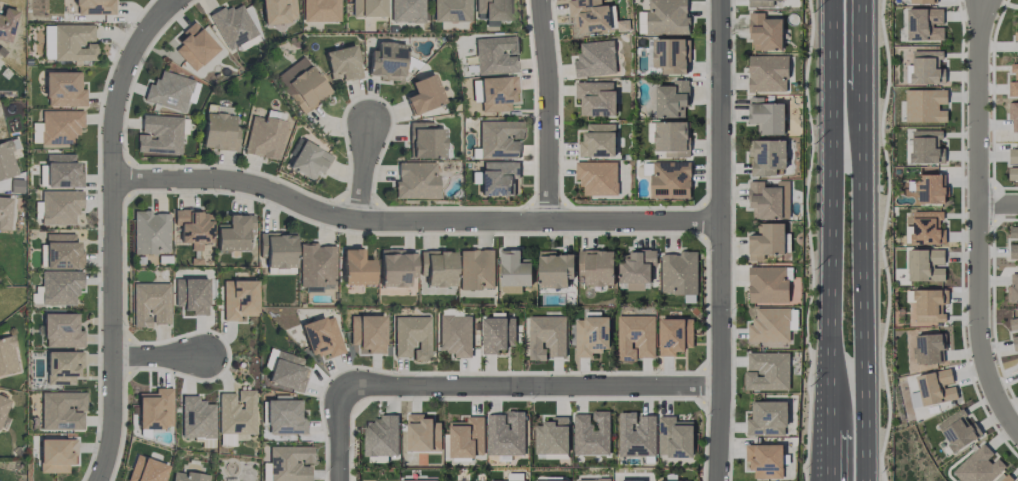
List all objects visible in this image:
building: (921, 1)
building: (761, 3)
building: (87, 7)
building: (366, 8)
building: (319, 10)
building: (450, 10)
building: (276, 11)
building: (405, 11)
building: (491, 11)
building: (589, 15)
building: (667, 17)
building: (642, 22)
building: (6, 23)
building: (924, 24)
building: (232, 25)
building: (764, 32)
building: (1017, 37)
building: (47, 42)
building: (73, 42)
road: (865, 43)
building: (194, 46)
building: (495, 55)
building: (671, 55)
building: (595, 58)
building: (385, 60)
building: (342, 63)
building: (925, 68)
building: (767, 73)
building: (1013, 82)
building: (303, 83)
building: (63, 89)
building: (474, 90)
building: (167, 91)
building: (495, 93)
building: (422, 95)
building: (595, 98)
building: (667, 99)
road: (976, 99)
building: (924, 105)
road: (550, 111)
building: (1013, 115)
building: (766, 116)
building: (59, 127)
building: (218, 132)
building: (158, 134)
building: (263, 137)
building: (671, 137)
building: (498, 139)
building: (424, 140)
building: (597, 140)
building: (926, 147)
building: (767, 156)
building: (307, 160)
building: (6, 161)
building: (1013, 164)
building: (61, 171)
road: (363, 171)
building: (497, 178)
building: (597, 178)
building: (415, 180)
building: (670, 180)
building: (929, 189)
building: (769, 200)
road: (998, 200)
building: (59, 207)
building: (4, 213)
road: (414, 223)
road: (826, 225)
building: (191, 226)
building: (925, 227)
road: (114, 232)
building: (149, 232)
building: (1013, 232)
building: (233, 233)
road: (722, 240)
building: (766, 241)
building: (277, 249)
building: (62, 251)
building: (1013, 251)
building: (315, 265)
building: (925, 265)
building: (596, 267)
building: (355, 268)
building: (395, 268)
building: (437, 268)
building: (476, 269)
building: (554, 269)
building: (636, 269)
building: (514, 271)
building: (679, 273)
road: (865, 283)
building: (767, 284)
building: (59, 287)
building: (1013, 288)
building: (190, 295)
building: (237, 299)
building: (149, 304)
road: (978, 320)
building: (1013, 323)
building: (772, 324)
building: (60, 330)
building: (366, 333)
building: (497, 334)
building: (455, 335)
building: (591, 335)
building: (674, 335)
building: (321, 337)
building: (411, 337)
building: (546, 337)
building: (635, 337)
building: (1015, 342)
building: (923, 347)
building: (6, 356)
road: (161, 358)
building: (61, 367)
building: (1017, 369)
building: (767, 370)
building: (286, 371)
road: (530, 388)
building: (932, 388)
building: (2, 405)
building: (61, 410)
building: (154, 410)
building: (282, 416)
building: (234, 417)
building: (195, 418)
building: (767, 418)
building: (957, 430)
building: (591, 433)
road: (339, 434)
building: (422, 434)
building: (505, 434)
building: (636, 435)
building: (381, 436)
building: (551, 436)
building: (674, 437)
building: (466, 438)
building: (764, 460)
building: (289, 462)
road: (828, 465)
building: (979, 466)
building: (145, 470)
building: (186, 476)
building: (1005, 478)
building: (593, 479)
building: (418, 480)
building: (509, 480)
building: (548, 480)
building: (632, 480)
building: (657, 480)

